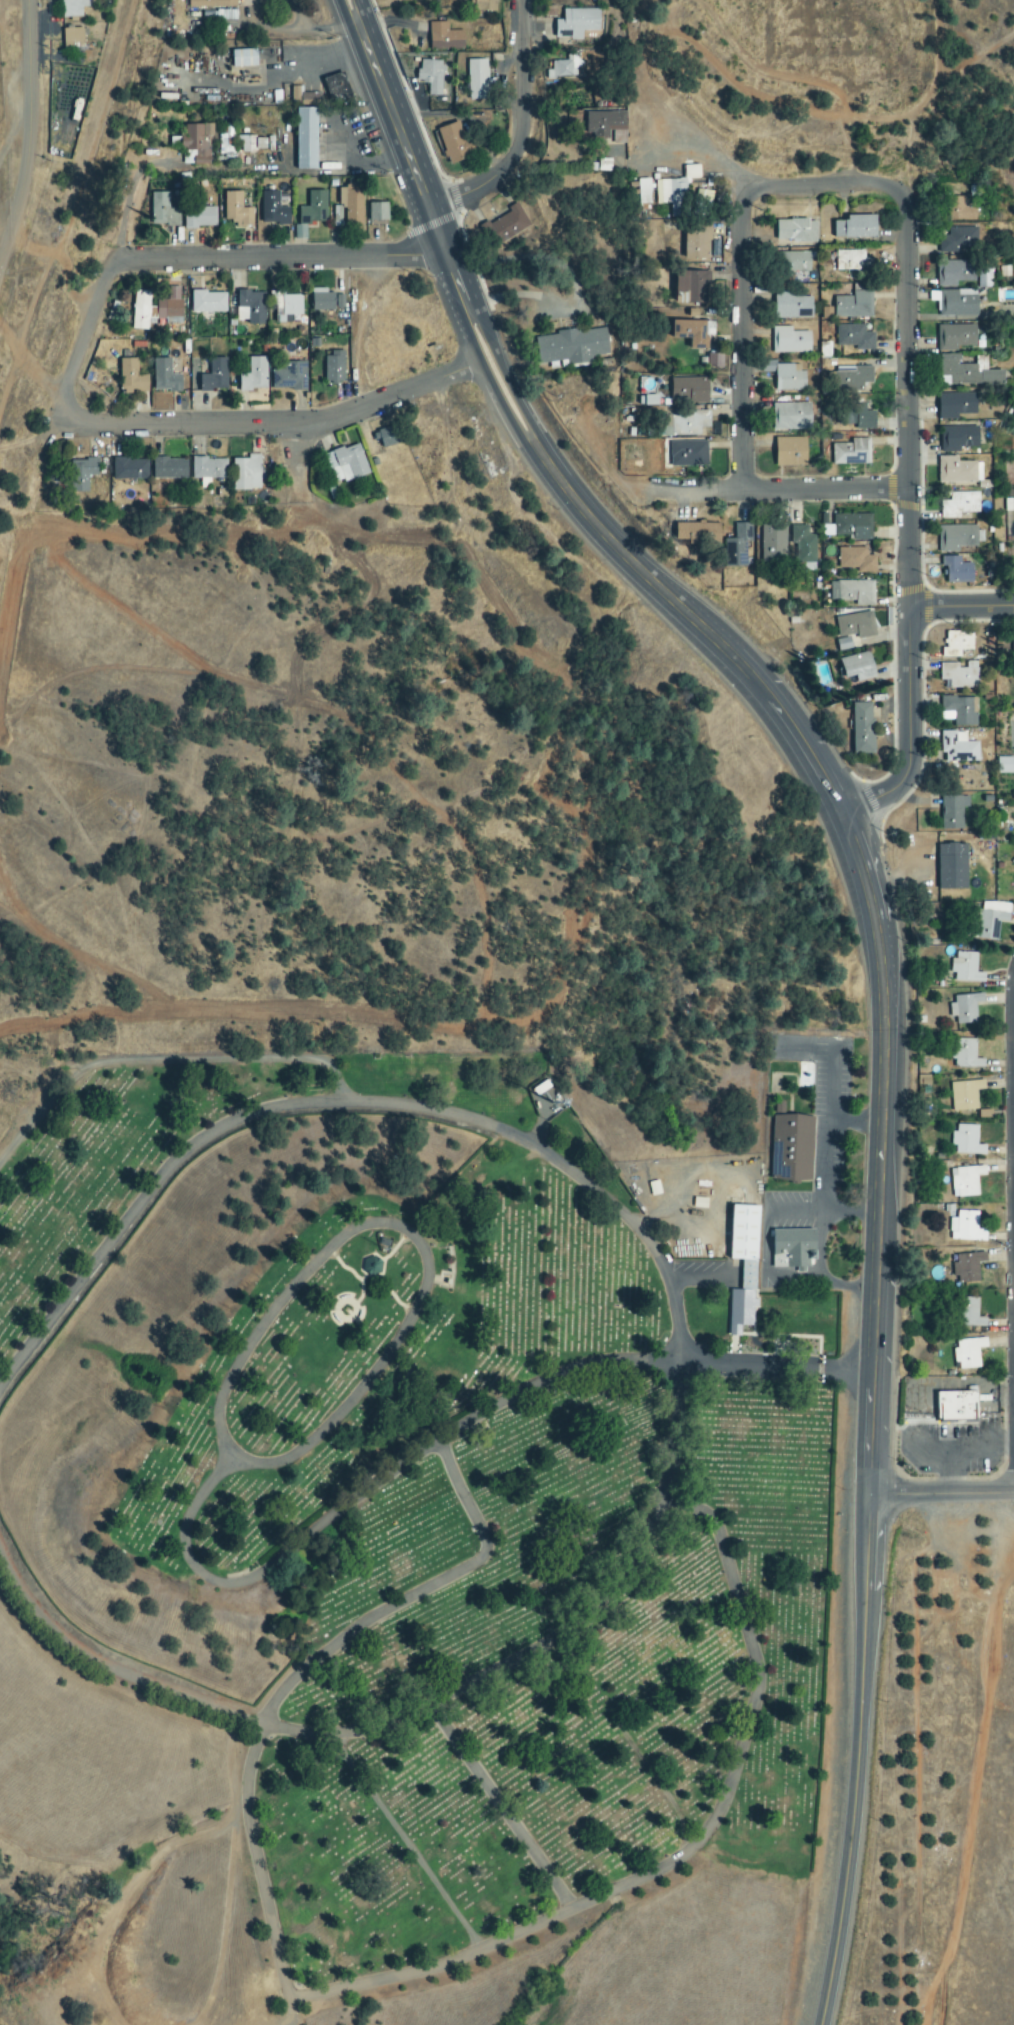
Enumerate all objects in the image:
building: (211, 3)
building: (482, 5)
building: (73, 8)
road: (360, 13)
road: (345, 15)
building: (576, 23)
road: (293, 30)
building: (72, 37)
building: (444, 37)
building: (243, 58)
building: (562, 69)
building: (430, 75)
building: (477, 79)
building: (337, 87)
building: (604, 123)
road: (523, 131)
road: (28, 132)
building: (196, 138)
building: (305, 138)
building: (452, 142)
building: (252, 144)
road: (411, 168)
building: (691, 172)
road: (828, 186)
building: (643, 191)
building: (704, 195)
building: (672, 196)
building: (351, 200)
building: (314, 208)
building: (273, 209)
building: (236, 210)
building: (959, 210)
building: (162, 211)
building: (377, 211)
building: (199, 217)
building: (508, 224)
building: (855, 227)
building: (795, 231)
railway: (80, 239)
building: (956, 239)
building: (696, 240)
road: (312, 256)
building: (850, 259)
building: (790, 263)
building: (954, 273)
building: (690, 287)
road: (100, 293)
building: (325, 300)
building: (286, 304)
building: (207, 305)
building: (853, 305)
building: (792, 306)
building: (250, 307)
building: (155, 308)
building: (690, 333)
building: (854, 337)
building: (954, 337)
building: (789, 341)
road: (743, 343)
building: (572, 346)
building: (715, 361)
building: (333, 367)
building: (966, 372)
road: (503, 374)
building: (214, 375)
building: (254, 375)
building: (164, 376)
building: (289, 376)
building: (785, 376)
building: (131, 377)
building: (849, 378)
road: (490, 381)
building: (688, 391)
road: (908, 403)
building: (955, 405)
building: (791, 416)
building: (859, 416)
road: (254, 422)
building: (685, 422)
building: (386, 437)
building: (957, 438)
road: (297, 445)
building: (790, 452)
building: (851, 452)
building: (687, 454)
building: (346, 463)
building: (169, 468)
building: (129, 469)
building: (207, 469)
building: (958, 471)
building: (82, 473)
building: (246, 473)
road: (779, 490)
building: (959, 505)
building: (850, 527)
building: (697, 532)
building: (958, 538)
building: (772, 542)
building: (736, 545)
building: (803, 545)
building: (855, 560)
building: (956, 570)
building: (852, 592)
road: (962, 604)
building: (856, 625)
building: (956, 643)
building: (843, 644)
building: (1013, 650)
building: (857, 667)
building: (959, 674)
building: (960, 710)
building: (862, 728)
road: (910, 729)
building: (958, 747)
building: (952, 812)
building: (1012, 862)
building: (952, 867)
road: (871, 911)
building: (989, 920)
building: (965, 968)
building: (964, 1008)
building: (965, 1054)
road: (164, 1061)
building: (965, 1095)
road: (854, 1123)
building: (966, 1141)
building: (791, 1146)
road: (826, 1164)
building: (966, 1181)
road: (787, 1213)
building: (965, 1227)
road: (411, 1233)
building: (793, 1248)
building: (372, 1267)
building: (743, 1267)
building: (967, 1267)
road: (770, 1282)
building: (968, 1313)
building: (968, 1353)
road: (677, 1369)
building: (957, 1407)
road: (449, 1433)
park: (414, 1496)
road: (938, 1496)
road: (417, 1594)
road: (856, 1761)
road: (656, 1780)
road: (500, 1807)
road: (408, 1843)
road: (682, 1854)
road: (257, 1863)

